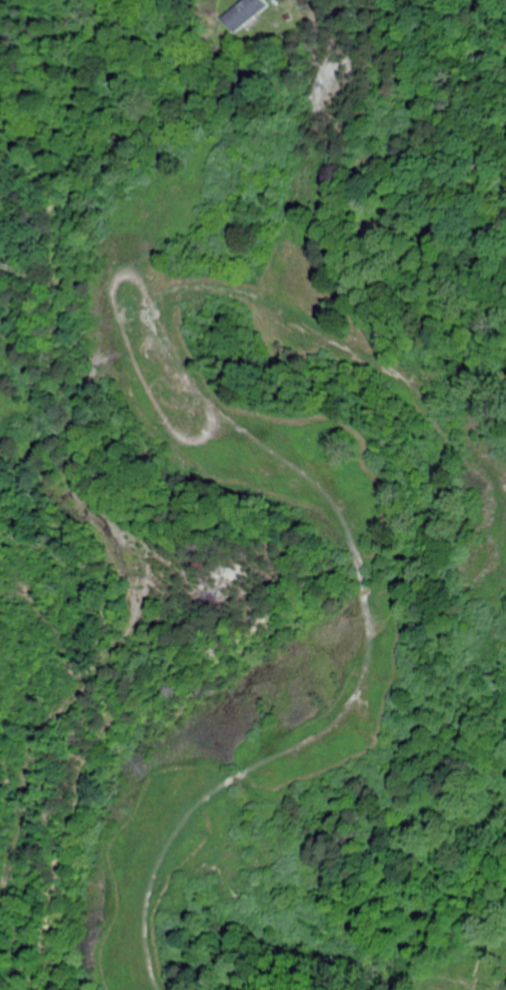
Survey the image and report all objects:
building: (244, 14)

